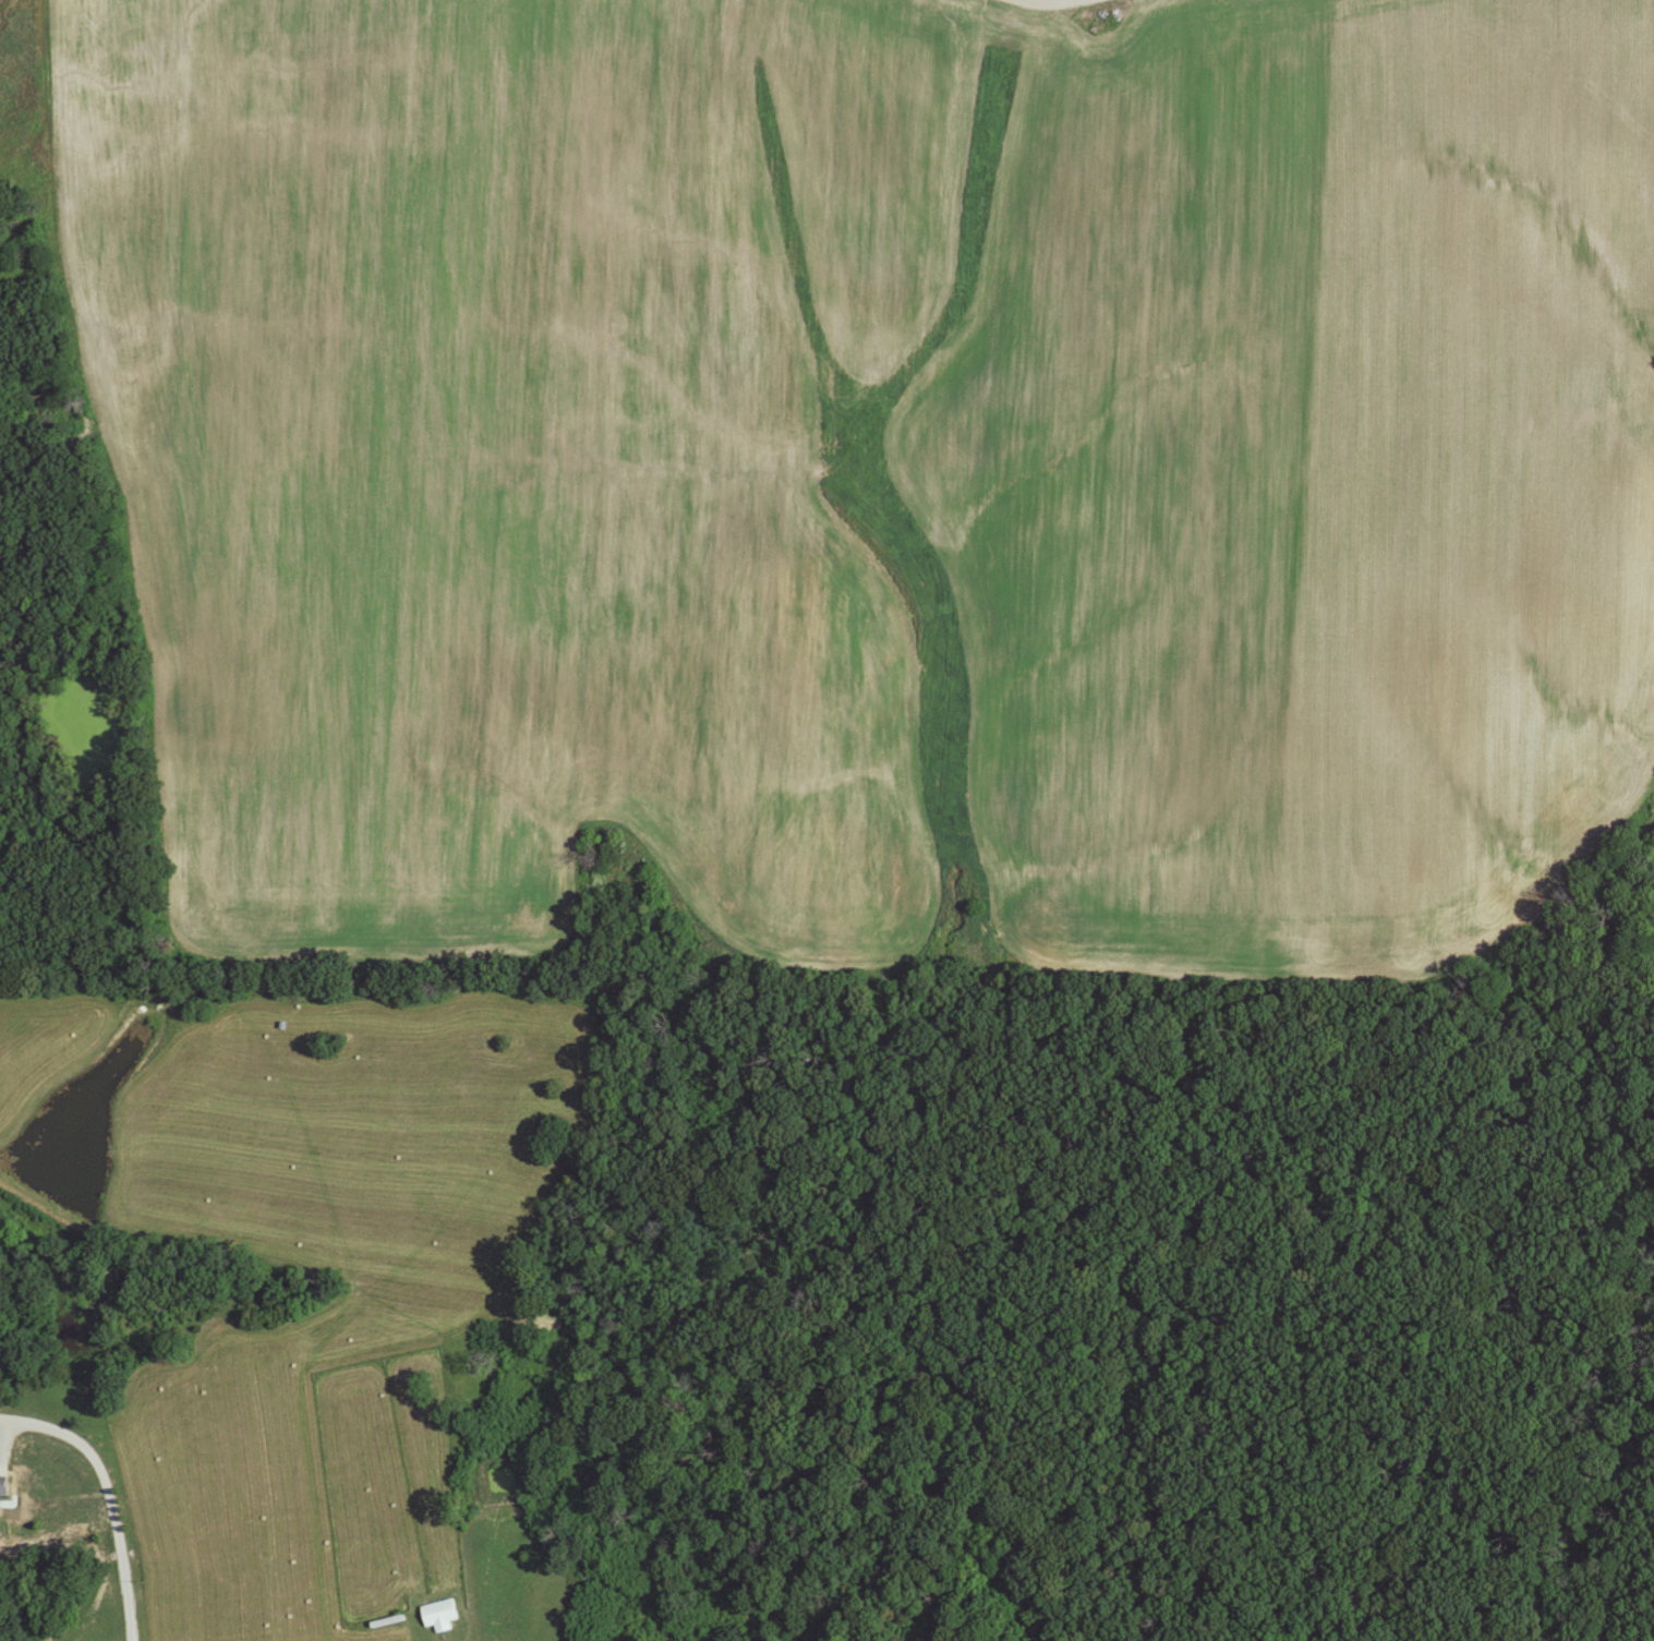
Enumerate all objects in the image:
road: (1065, 8)
building: (4, 1493)
road: (104, 1494)
building: (443, 1616)

